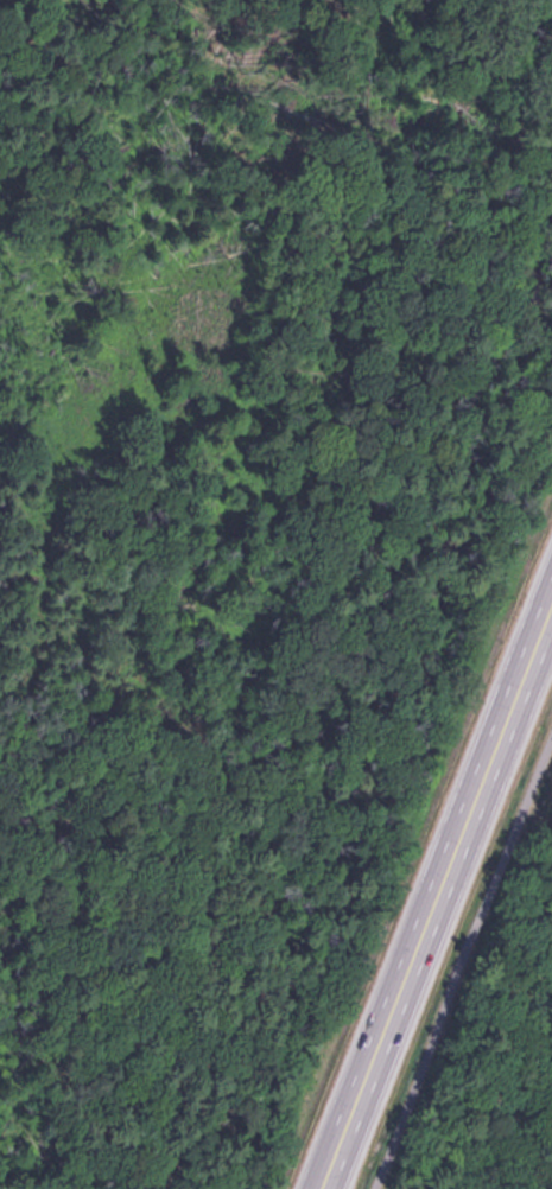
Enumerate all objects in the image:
road: (455, 865)
road: (468, 990)
road: (342, 1151)

